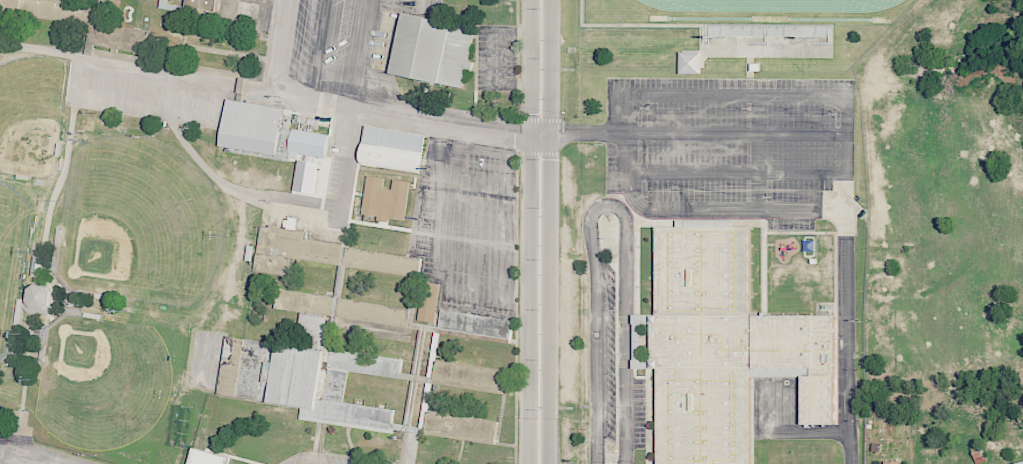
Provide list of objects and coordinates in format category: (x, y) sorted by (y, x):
road: (424, 3)
building: (206, 4)
track: (774, 5)
building: (121, 37)
road: (42, 49)
road: (322, 50)
building: (435, 51)
road: (360, 54)
road: (496, 57)
building: (692, 62)
road: (183, 77)
road: (736, 93)
road: (148, 107)
park: (31, 113)
road: (409, 120)
building: (253, 126)
road: (737, 133)
building: (288, 137)
building: (310, 143)
parking lot: (728, 146)
building: (392, 150)
road: (349, 166)
road: (738, 170)
road: (847, 170)
building: (309, 176)
road: (480, 184)
building: (373, 195)
road: (758, 195)
road: (448, 204)
road: (607, 204)
road: (660, 209)
road: (479, 220)
park: (138, 222)
parking lot: (468, 223)
road: (529, 232)
road: (550, 232)
building: (292, 249)
road: (476, 256)
park: (11, 260)
building: (382, 261)
road: (476, 290)
building: (40, 299)
building: (306, 301)
building: (429, 301)
building: (475, 323)
road: (844, 335)
building: (726, 347)
building: (468, 374)
building: (314, 376)
park: (102, 380)
road: (1, 434)
building: (208, 457)
road: (21, 459)
road: (13, 461)
building: (895, 462)
building: (1019, 463)

